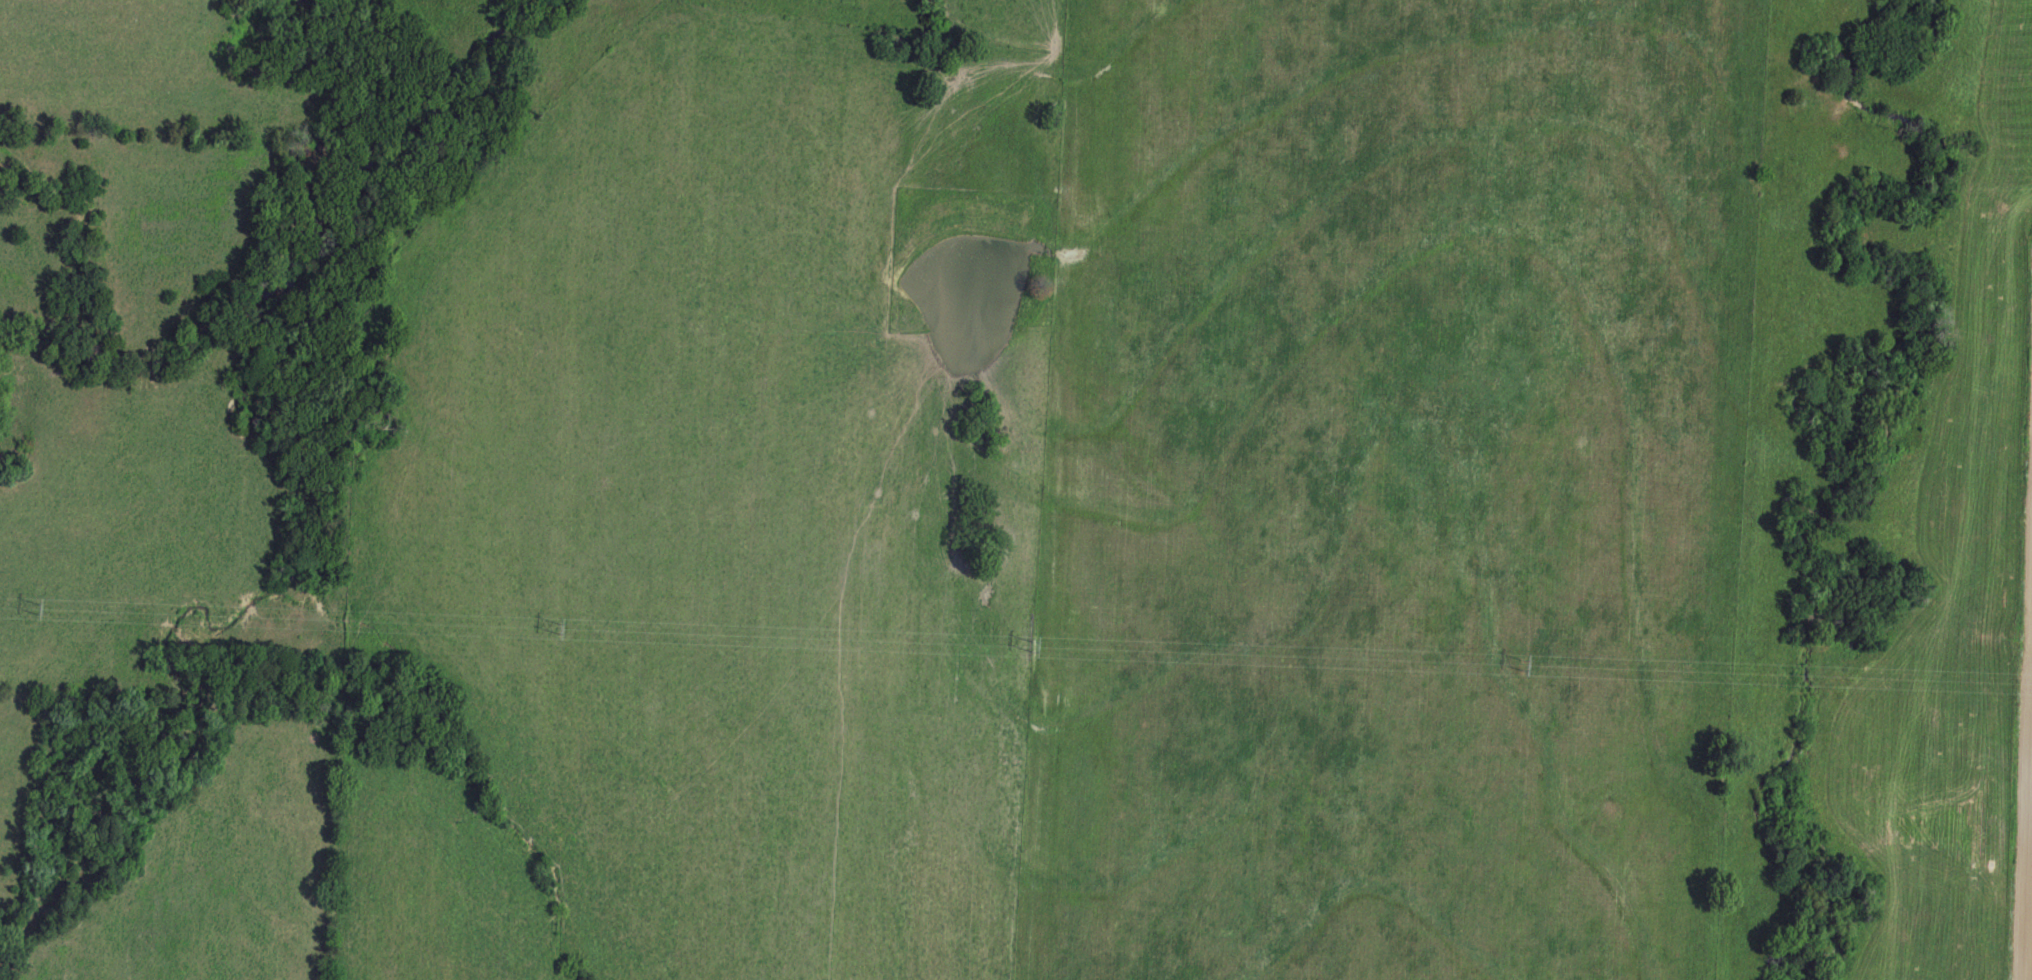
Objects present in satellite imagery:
power tower: (35, 604)
power tower: (558, 628)
power tower: (1031, 643)
power tower: (1526, 663)

